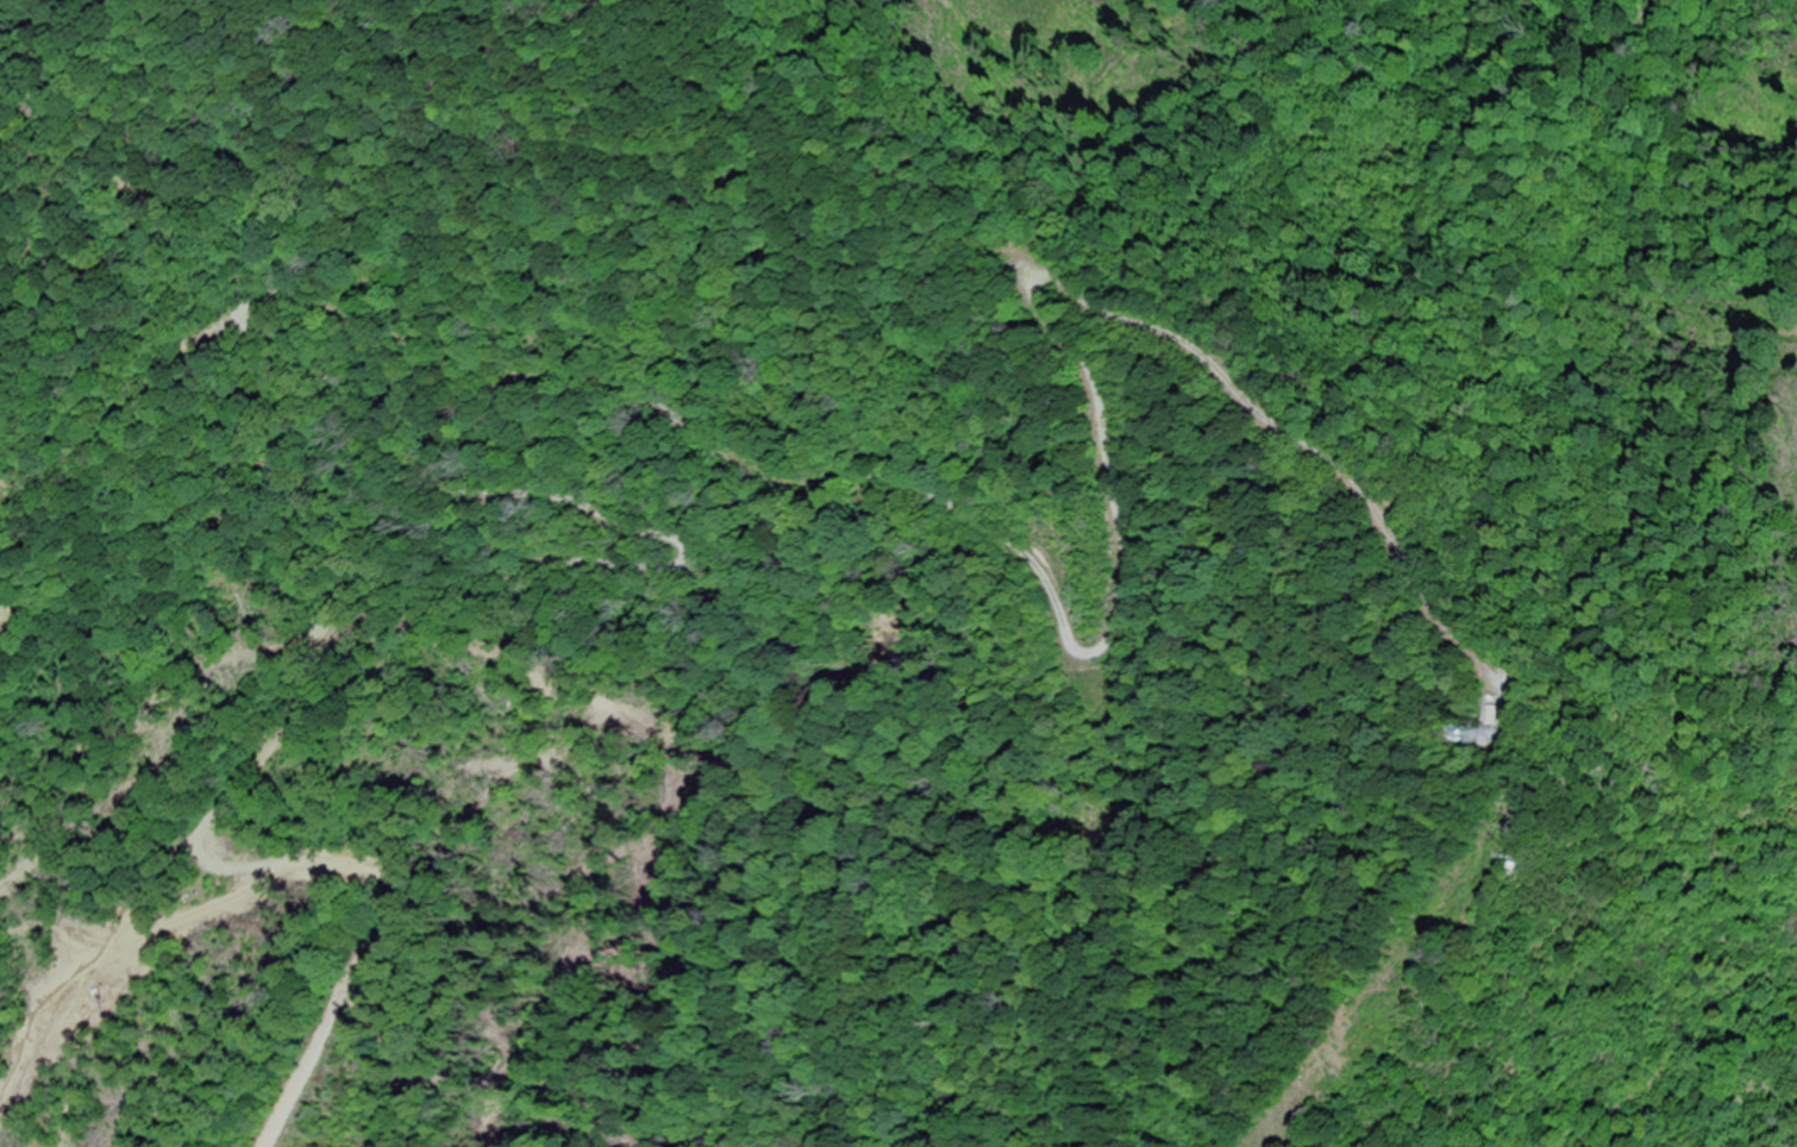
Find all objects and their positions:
building: (1496, 720)

